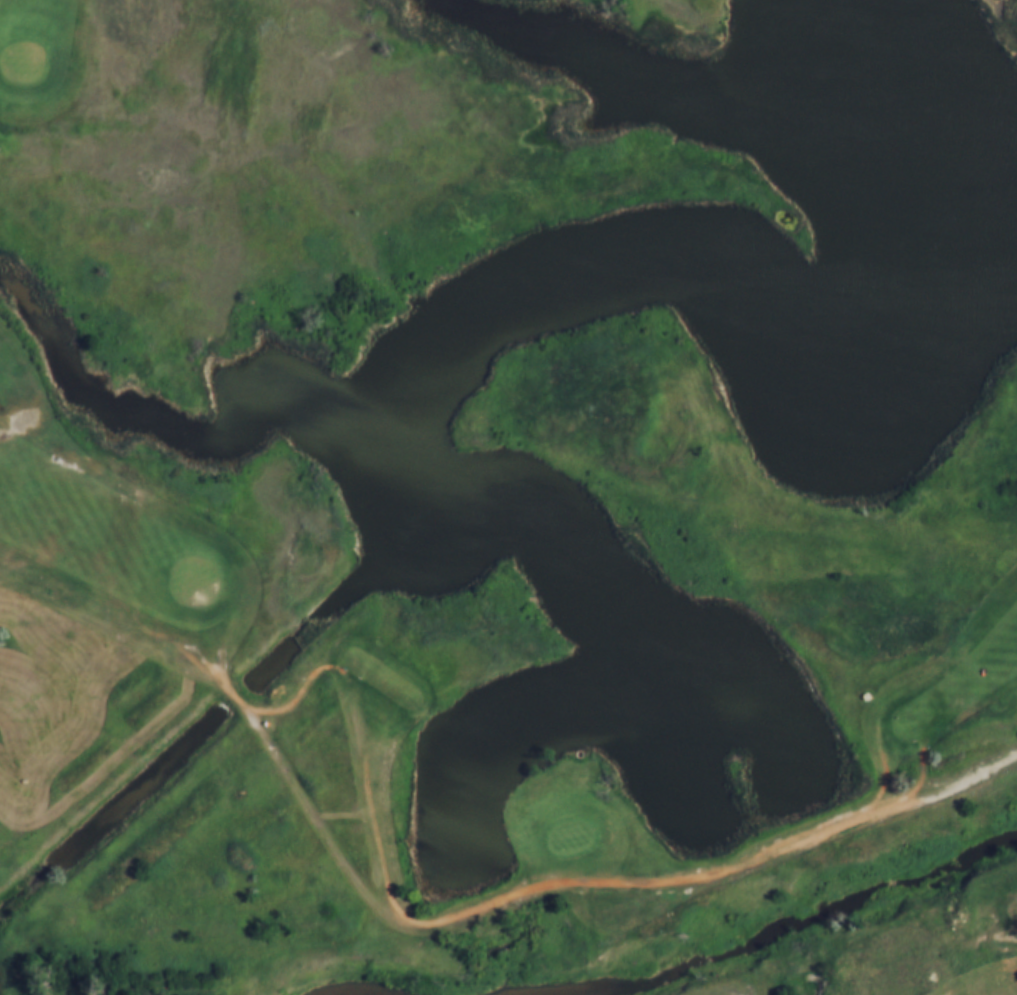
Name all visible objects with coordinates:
park: (529, 422)
building: (859, 695)
road: (371, 751)
road: (448, 920)

